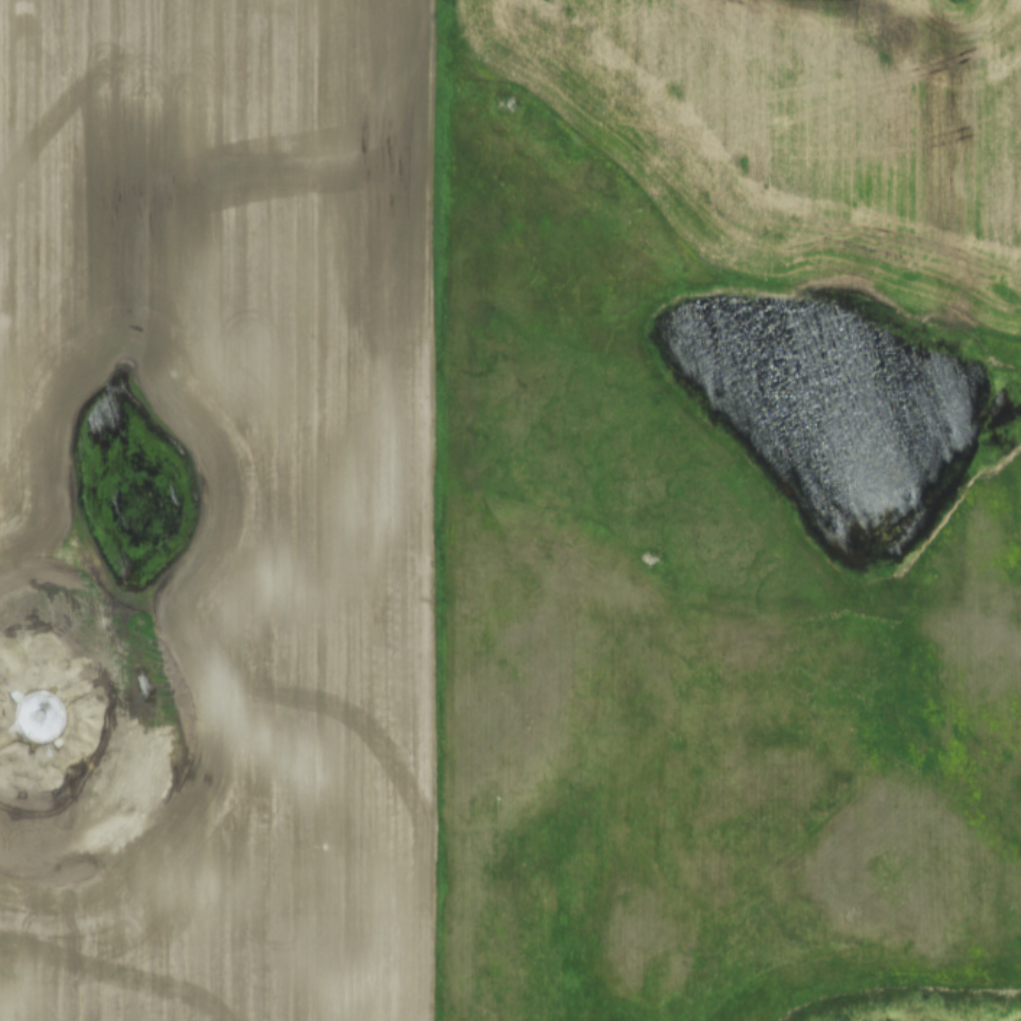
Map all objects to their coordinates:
wind turbine: (41, 713)

